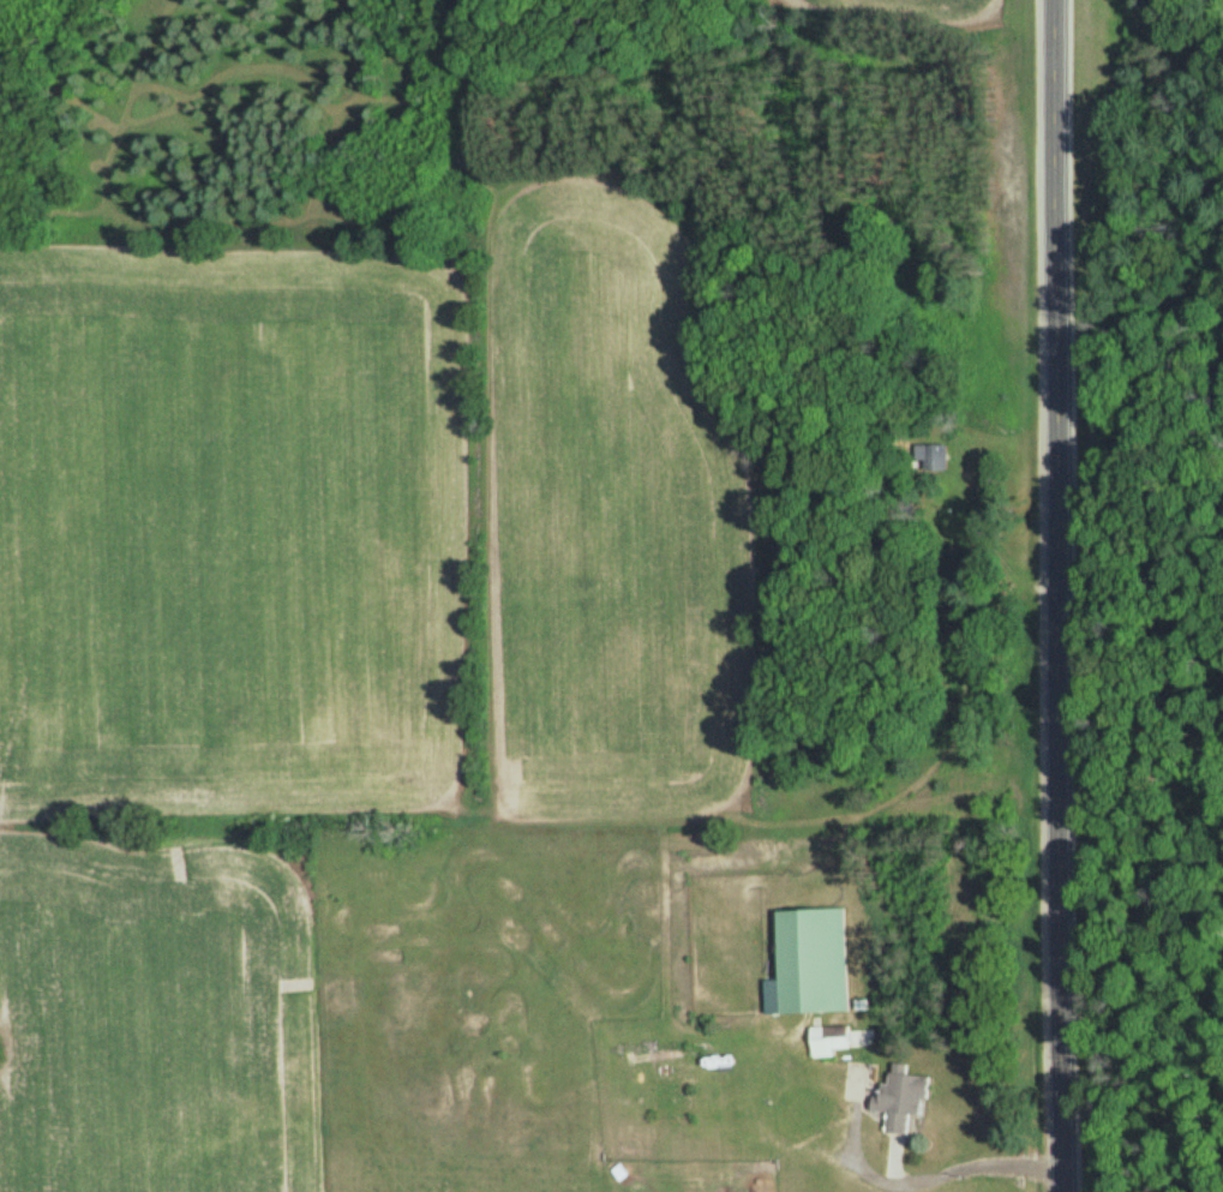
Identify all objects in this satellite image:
building: (940, 457)
road: (1059, 595)
building: (811, 964)
building: (835, 1040)
building: (906, 1098)

